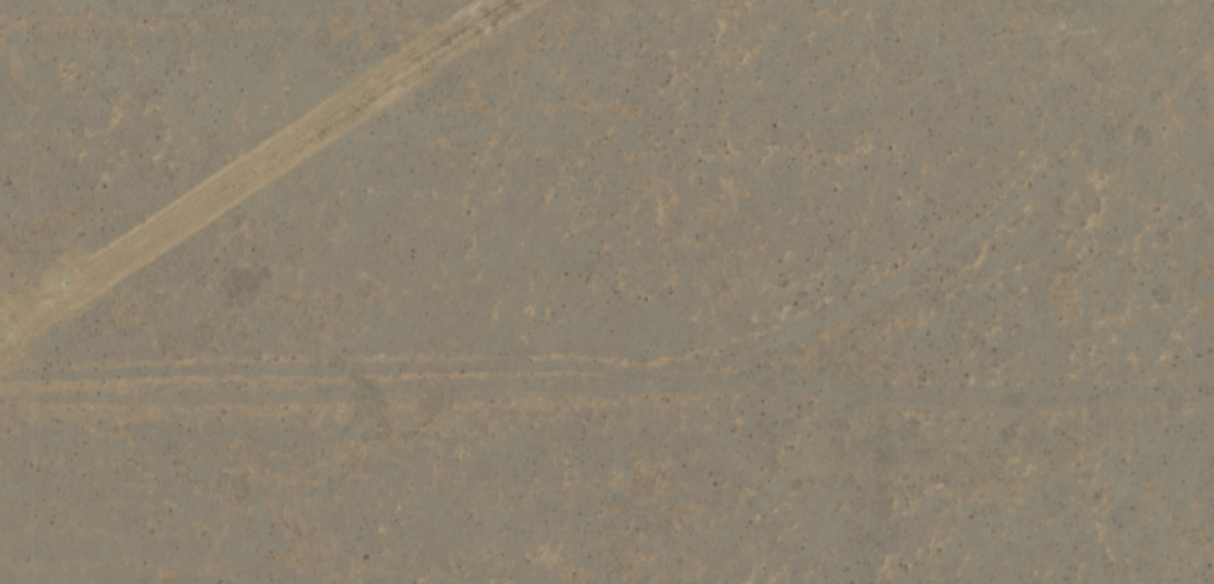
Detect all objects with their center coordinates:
road: (606, 387)

